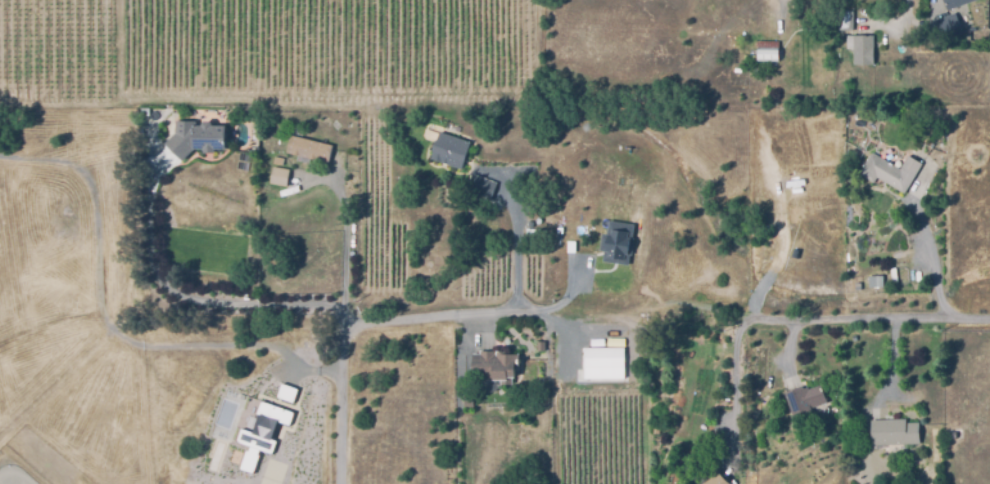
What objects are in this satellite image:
road: (918, 17)
building: (947, 18)
building: (843, 19)
building: (861, 48)
building: (768, 50)
building: (195, 143)
building: (310, 149)
building: (450, 154)
building: (279, 157)
building: (890, 171)
building: (279, 179)
building: (480, 187)
road: (344, 227)
road: (516, 230)
building: (617, 239)
road: (931, 256)
building: (893, 275)
building: (878, 281)
road: (311, 307)
road: (822, 317)
road: (603, 319)
road: (51, 321)
road: (107, 329)
building: (540, 345)
building: (603, 361)
road: (892, 367)
building: (495, 371)
building: (533, 382)
road: (733, 390)
building: (287, 392)
building: (532, 393)
road: (341, 399)
building: (805, 399)
building: (656, 429)
building: (262, 432)
building: (892, 433)
building: (716, 479)

